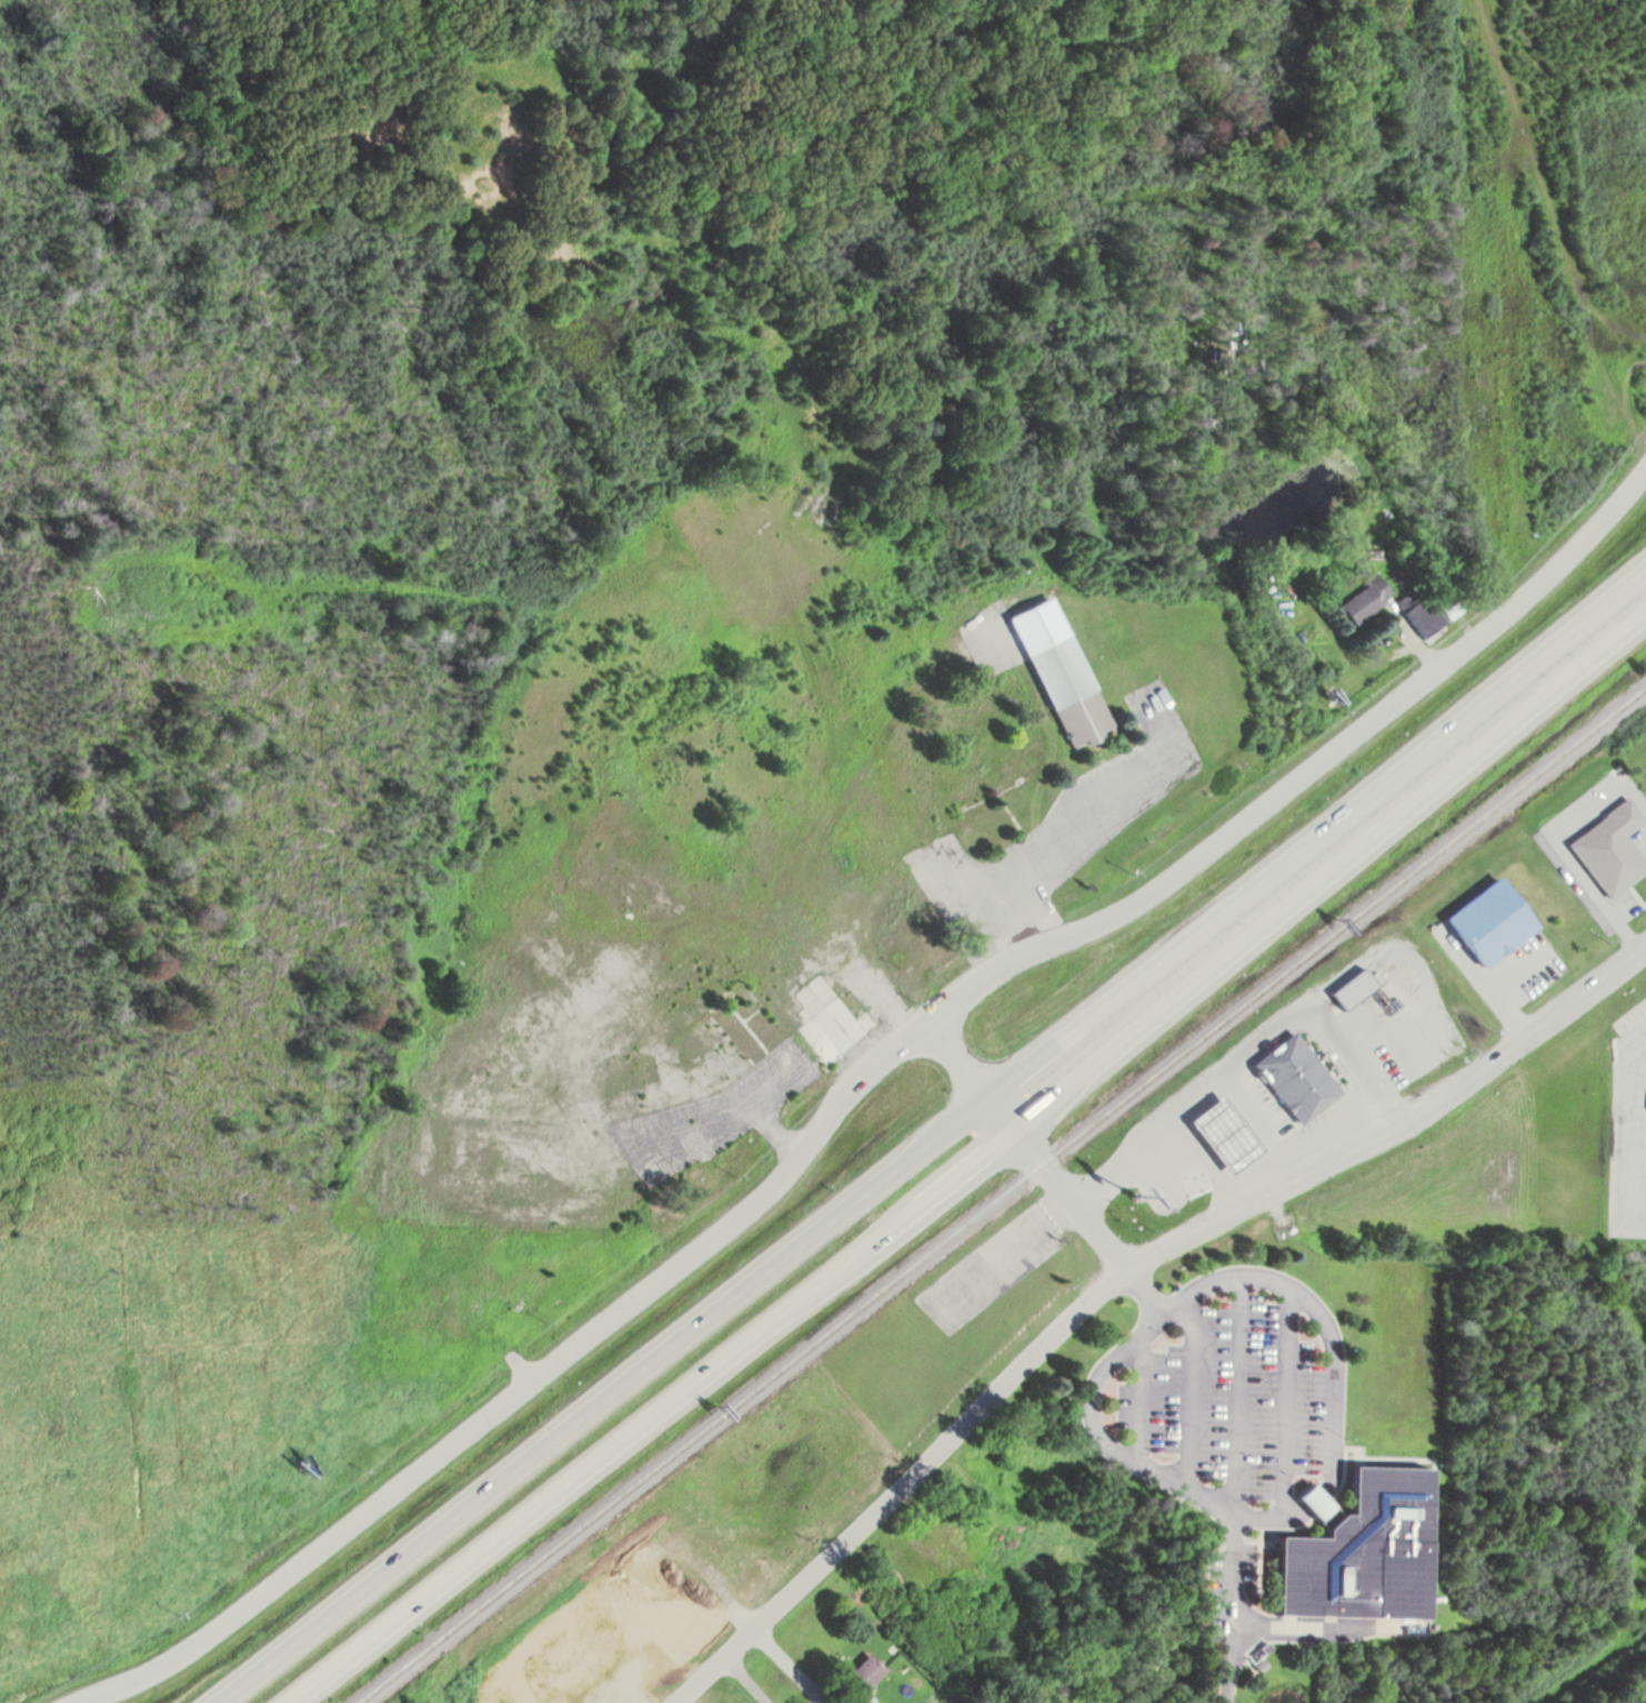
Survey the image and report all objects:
building: (1366, 598)
building: (1426, 615)
building: (1061, 655)
road: (1043, 830)
road: (1564, 839)
building: (1610, 845)
building: (631, 885)
building: (1313, 885)
building: (1494, 922)
road: (1413, 944)
building: (1351, 972)
road: (1487, 973)
building: (1354, 986)
building: (769, 994)
building: (825, 1002)
building: (642, 1006)
building: (662, 1006)
building: (628, 1018)
building: (835, 1029)
road: (1245, 1036)
building: (713, 1048)
road: (957, 1054)
building: (1294, 1060)
road: (769, 1068)
road: (853, 1081)
building: (664, 1090)
road: (731, 1093)
road: (1265, 1114)
building: (1224, 1119)
road: (1635, 1123)
road: (932, 1135)
road: (1207, 1154)
road: (970, 1165)
road: (1055, 1180)
railway: (1001, 1195)
road: (1122, 1271)
road: (1334, 1363)
road: (1187, 1389)
road: (1237, 1391)
road: (1138, 1400)
road: (1286, 1402)
road: (1154, 1471)
building: (679, 1545)
building: (1364, 1551)
road: (1327, 1625)
building: (865, 1672)
road: (745, 1680)

